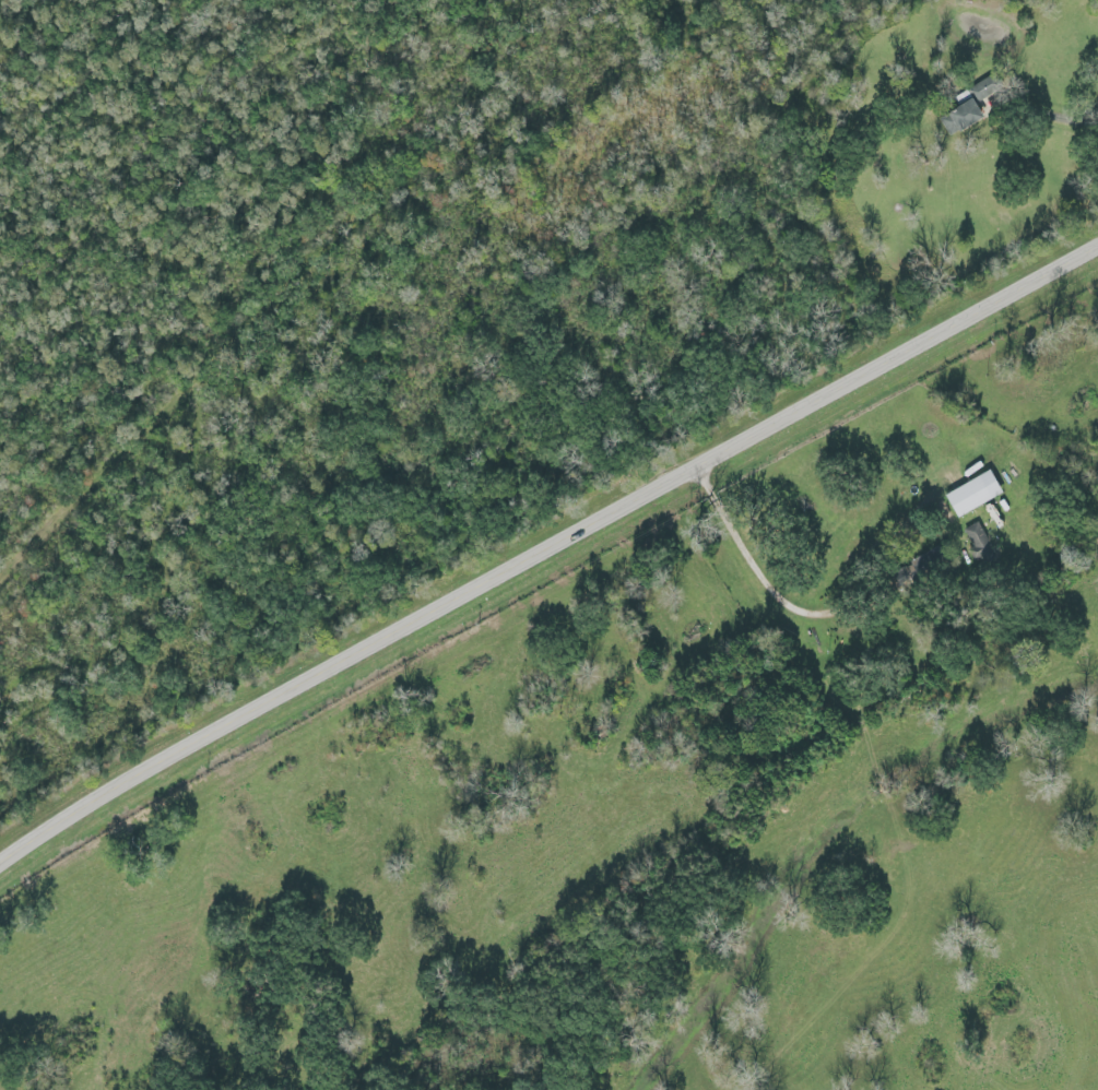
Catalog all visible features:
building: (968, 108)
road: (1055, 119)
building: (970, 495)
building: (979, 549)
road: (543, 552)
building: (930, 562)
road: (765, 585)

